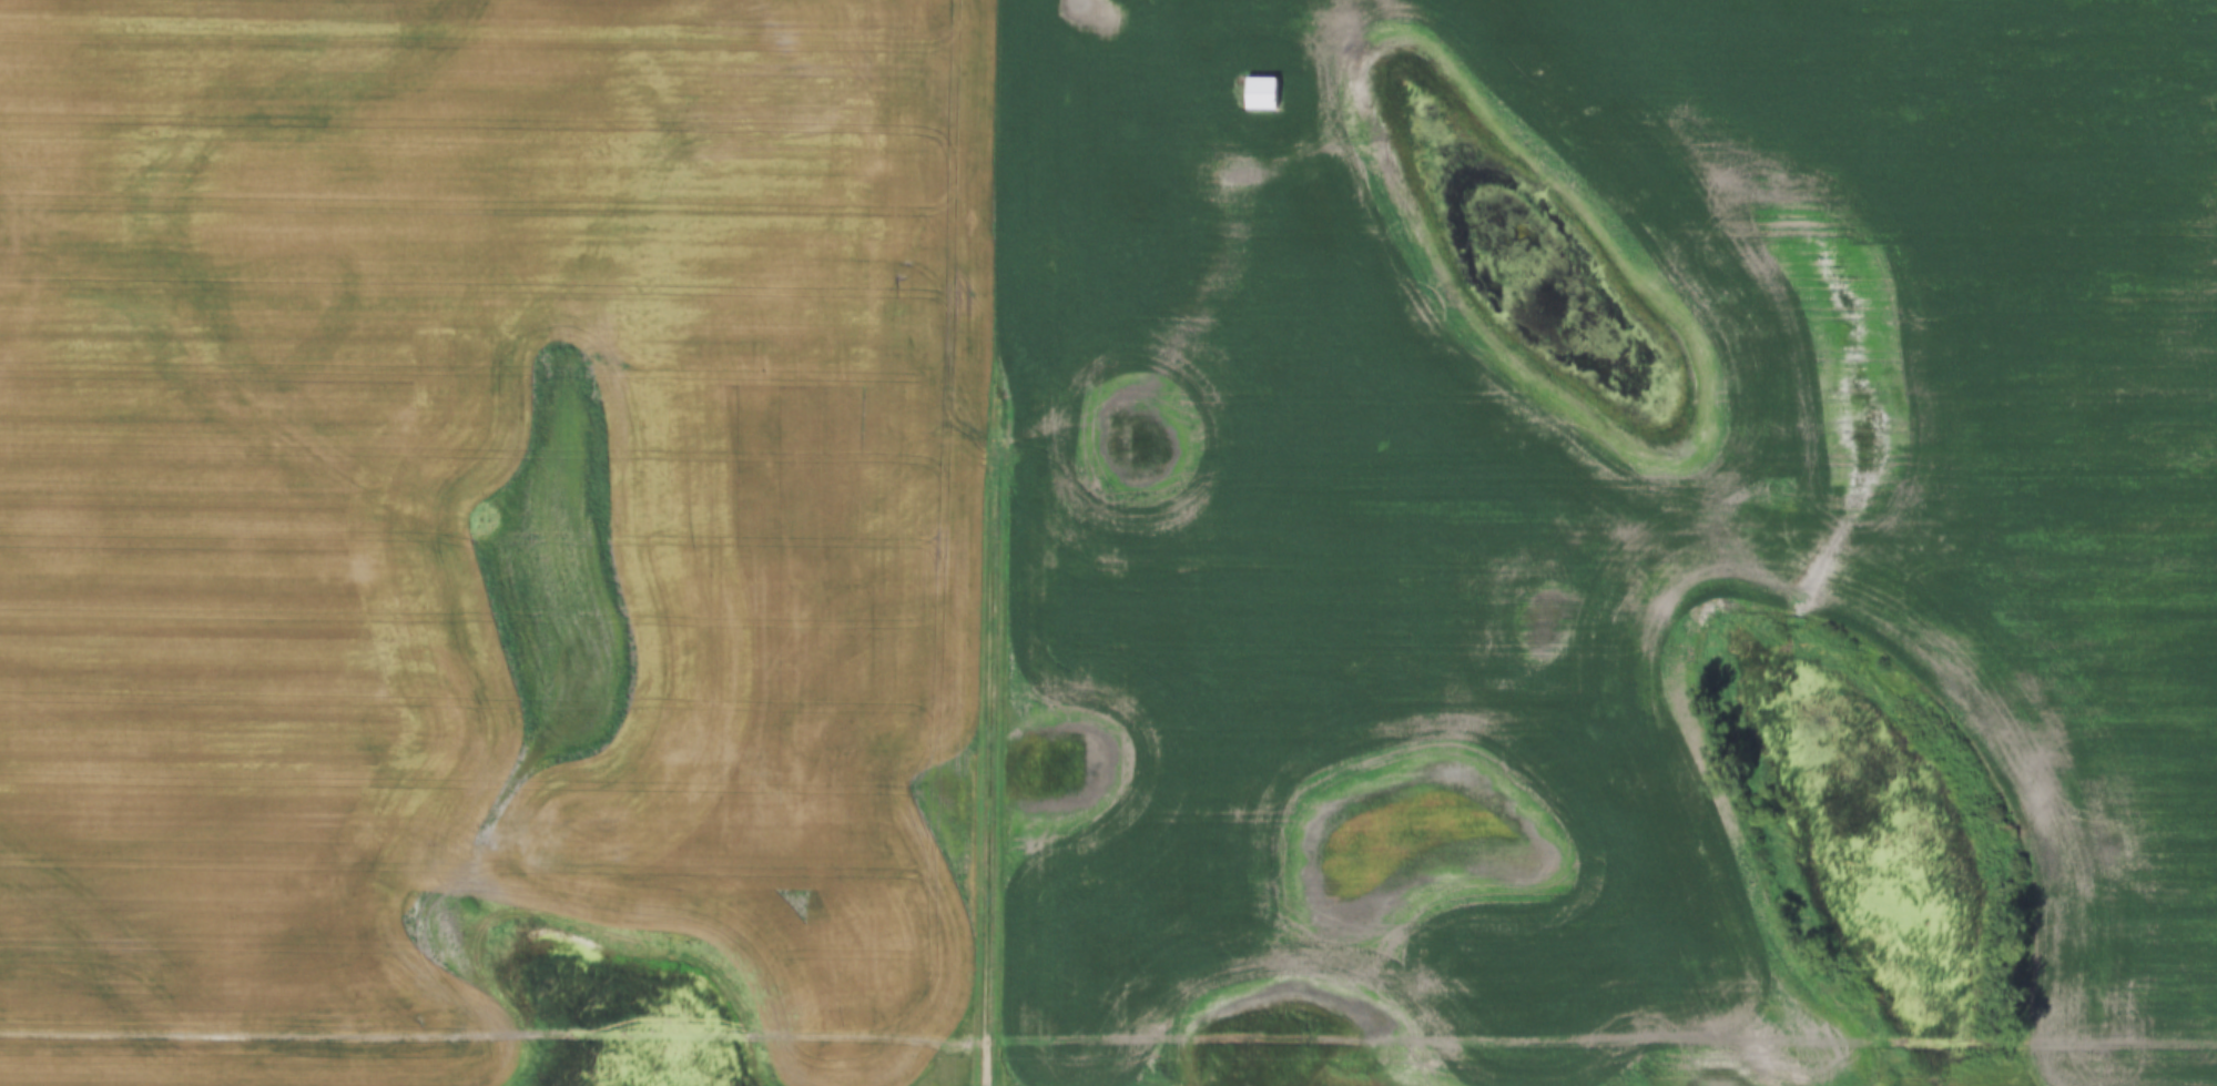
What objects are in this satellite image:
building: (1265, 92)
road: (1162, 321)
road: (993, 539)

